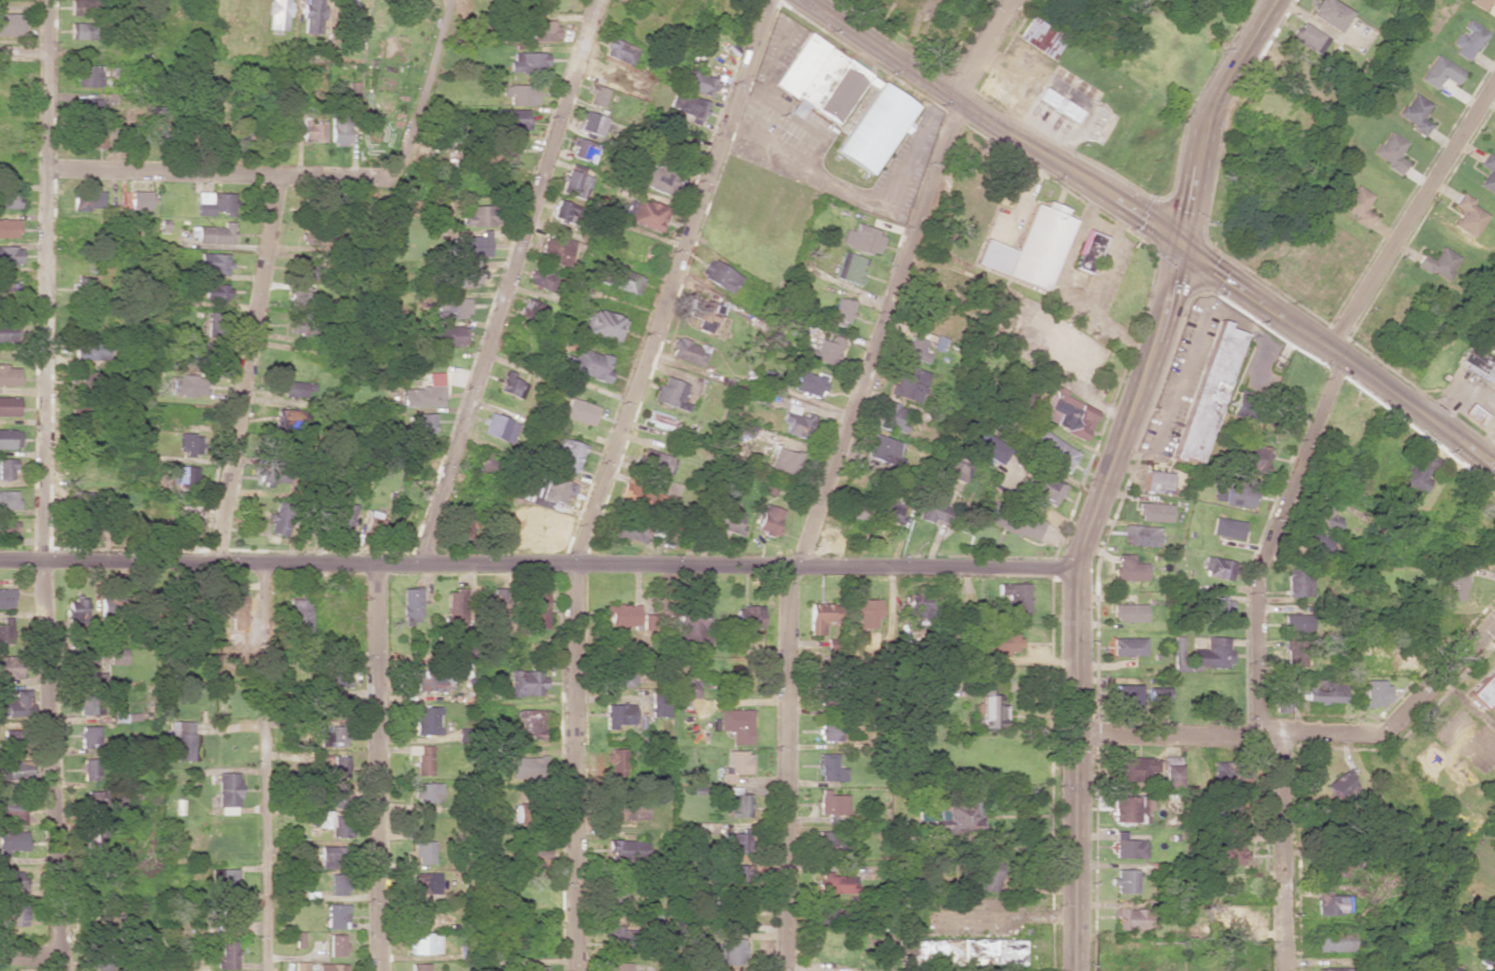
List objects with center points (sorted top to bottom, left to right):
building: (1494, 0)
building: (1478, 3)
building: (81, 7)
building: (348, 10)
building: (278, 14)
building: (1329, 14)
building: (312, 16)
building: (10, 25)
building: (81, 31)
building: (1041, 38)
building: (1309, 38)
building: (1467, 39)
building: (618, 51)
road: (989, 51)
road: (105, 57)
building: (525, 61)
building: (1288, 67)
building: (1439, 72)
building: (88, 76)
building: (819, 80)
building: (693, 81)
road: (421, 89)
building: (519, 94)
building: (595, 95)
building: (1058, 105)
building: (687, 107)
building: (90, 108)
building: (1414, 113)
road: (1209, 115)
building: (365, 118)
building: (511, 119)
building: (590, 123)
building: (874, 127)
building: (339, 128)
building: (312, 131)
building: (90, 138)
building: (677, 143)
building: (582, 149)
building: (1389, 152)
road: (218, 173)
building: (1488, 173)
building: (657, 179)
building: (572, 183)
building: (9, 198)
building: (138, 200)
building: (87, 201)
building: (213, 204)
building: (1356, 205)
building: (561, 211)
road: (1411, 211)
building: (647, 215)
building: (1468, 215)
building: (477, 216)
building: (9, 228)
road: (1154, 228)
building: (214, 234)
building: (865, 240)
building: (473, 245)
traffic signals: (1178, 245)
building: (1029, 248)
building: (555, 250)
building: (1088, 251)
building: (10, 256)
building: (213, 263)
building: (1437, 263)
building: (306, 268)
building: (849, 268)
building: (464, 276)
building: (718, 276)
building: (541, 279)
building: (620, 280)
road: (508, 281)
building: (84, 285)
building: (9, 291)
building: (215, 292)
building: (299, 294)
building: (450, 307)
building: (530, 310)
building: (839, 312)
building: (702, 313)
building: (297, 323)
building: (601, 325)
building: (7, 332)
road: (882, 334)
building: (447, 336)
building: (91, 349)
building: (914, 349)
building: (686, 351)
building: (824, 351)
building: (192, 352)
building: (1478, 363)
building: (586, 365)
road: (247, 369)
building: (8, 376)
building: (809, 383)
building: (907, 384)
building: (510, 385)
building: (186, 386)
building: (295, 389)
building: (424, 393)
building: (1205, 393)
building: (669, 394)
building: (1241, 404)
building: (8, 406)
building: (578, 411)
building: (88, 412)
building: (1472, 414)
building: (1068, 415)
building: (890, 417)
building: (287, 420)
building: (657, 420)
building: (796, 422)
building: (420, 423)
building: (499, 428)
building: (744, 429)
building: (9, 439)
building: (190, 445)
building: (883, 450)
building: (990, 450)
building: (1052, 450)
building: (566, 454)
building: (1251, 458)
building: (655, 462)
building: (783, 462)
building: (488, 465)
building: (6, 468)
building: (1416, 473)
road: (602, 475)
building: (183, 476)
building: (272, 477)
building: (1157, 482)
road: (43, 485)
building: (1044, 488)
building: (1241, 494)
building: (642, 498)
building: (936, 498)
building: (8, 500)
building: (858, 510)
building: (889, 512)
building: (1154, 512)
building: (1322, 514)
building: (187, 520)
building: (279, 520)
building: (344, 521)
building: (373, 521)
building: (729, 521)
building: (767, 521)
building: (1014, 522)
building: (463, 527)
building: (657, 527)
building: (8, 528)
building: (1226, 528)
building: (628, 530)
building: (1140, 535)
road: (1272, 539)
building: (1314, 543)
road: (540, 563)
building: (1217, 567)
building: (1129, 568)
building: (1297, 582)
building: (1454, 586)
building: (5, 597)
building: (246, 597)
building: (1014, 600)
road: (1080, 600)
building: (410, 605)
building: (106, 606)
building: (500, 606)
building: (534, 608)
building: (1212, 609)
building: (456, 610)
building: (917, 610)
building: (76, 611)
building: (1128, 612)
building: (867, 614)
building: (299, 615)
building: (621, 615)
building: (649, 617)
building: (747, 617)
building: (821, 617)
building: (1294, 623)
building: (690, 627)
building: (4, 634)
building: (1004, 642)
building: (1128, 646)
building: (1360, 647)
building: (1294, 652)
building: (1178, 653)
building: (1211, 654)
building: (1386, 654)
building: (117, 656)
building: (9, 667)
building: (86, 671)
building: (622, 677)
building: (429, 681)
building: (525, 683)
building: (1284, 688)
building: (687, 689)
building: (1485, 691)
building: (1323, 692)
building: (1373, 692)
building: (1156, 694)
building: (1126, 698)
building: (84, 704)
building: (659, 705)
building: (11, 706)
building: (990, 710)
building: (617, 715)
building: (426, 721)
building: (529, 724)
building: (827, 724)
building: (736, 725)
road: (1309, 732)
building: (88, 737)
building: (335, 738)
building: (183, 739)
building: (9, 742)
building: (421, 759)
building: (616, 765)
road: (265, 766)
building: (734, 766)
building: (337, 767)
road: (375, 767)
building: (526, 767)
road: (785, 768)
building: (829, 768)
building: (1132, 768)
building: (89, 769)
building: (15, 770)
building: (1170, 776)
building: (1342, 785)
building: (227, 793)
building: (424, 793)
building: (336, 797)
building: (101, 801)
building: (832, 803)
building: (1129, 809)
building: (12, 811)
building: (626, 811)
building: (520, 813)
building: (957, 819)
building: (331, 823)
building: (97, 841)
building: (11, 842)
building: (733, 842)
building: (826, 844)
building: (1129, 846)
building: (626, 849)
building: (422, 852)
road: (1283, 852)
building: (1229, 854)
building: (329, 857)
building: (733, 872)
building: (985, 874)
building: (12, 879)
building: (1124, 881)
building: (224, 882)
building: (424, 883)
building: (337, 884)
building: (836, 884)
building: (616, 898)
building: (913, 901)
building: (1333, 903)
building: (420, 913)
building: (12, 916)
building: (336, 916)
building: (226, 917)
building: (1229, 917)
building: (1129, 918)
building: (104, 919)
building: (616, 938)
building: (1335, 941)
building: (424, 943)
building: (336, 945)
building: (932, 950)
building: (731, 951)
building: (991, 951)
road: (29, 955)
building: (227, 955)
building: (1492, 962)
building: (301, 966)
building: (619, 966)
building: (329, 967)
building: (418, 967)
building: (534, 969)
building: (1337, 969)
building: (1448, 969)
building: (839, 970)

